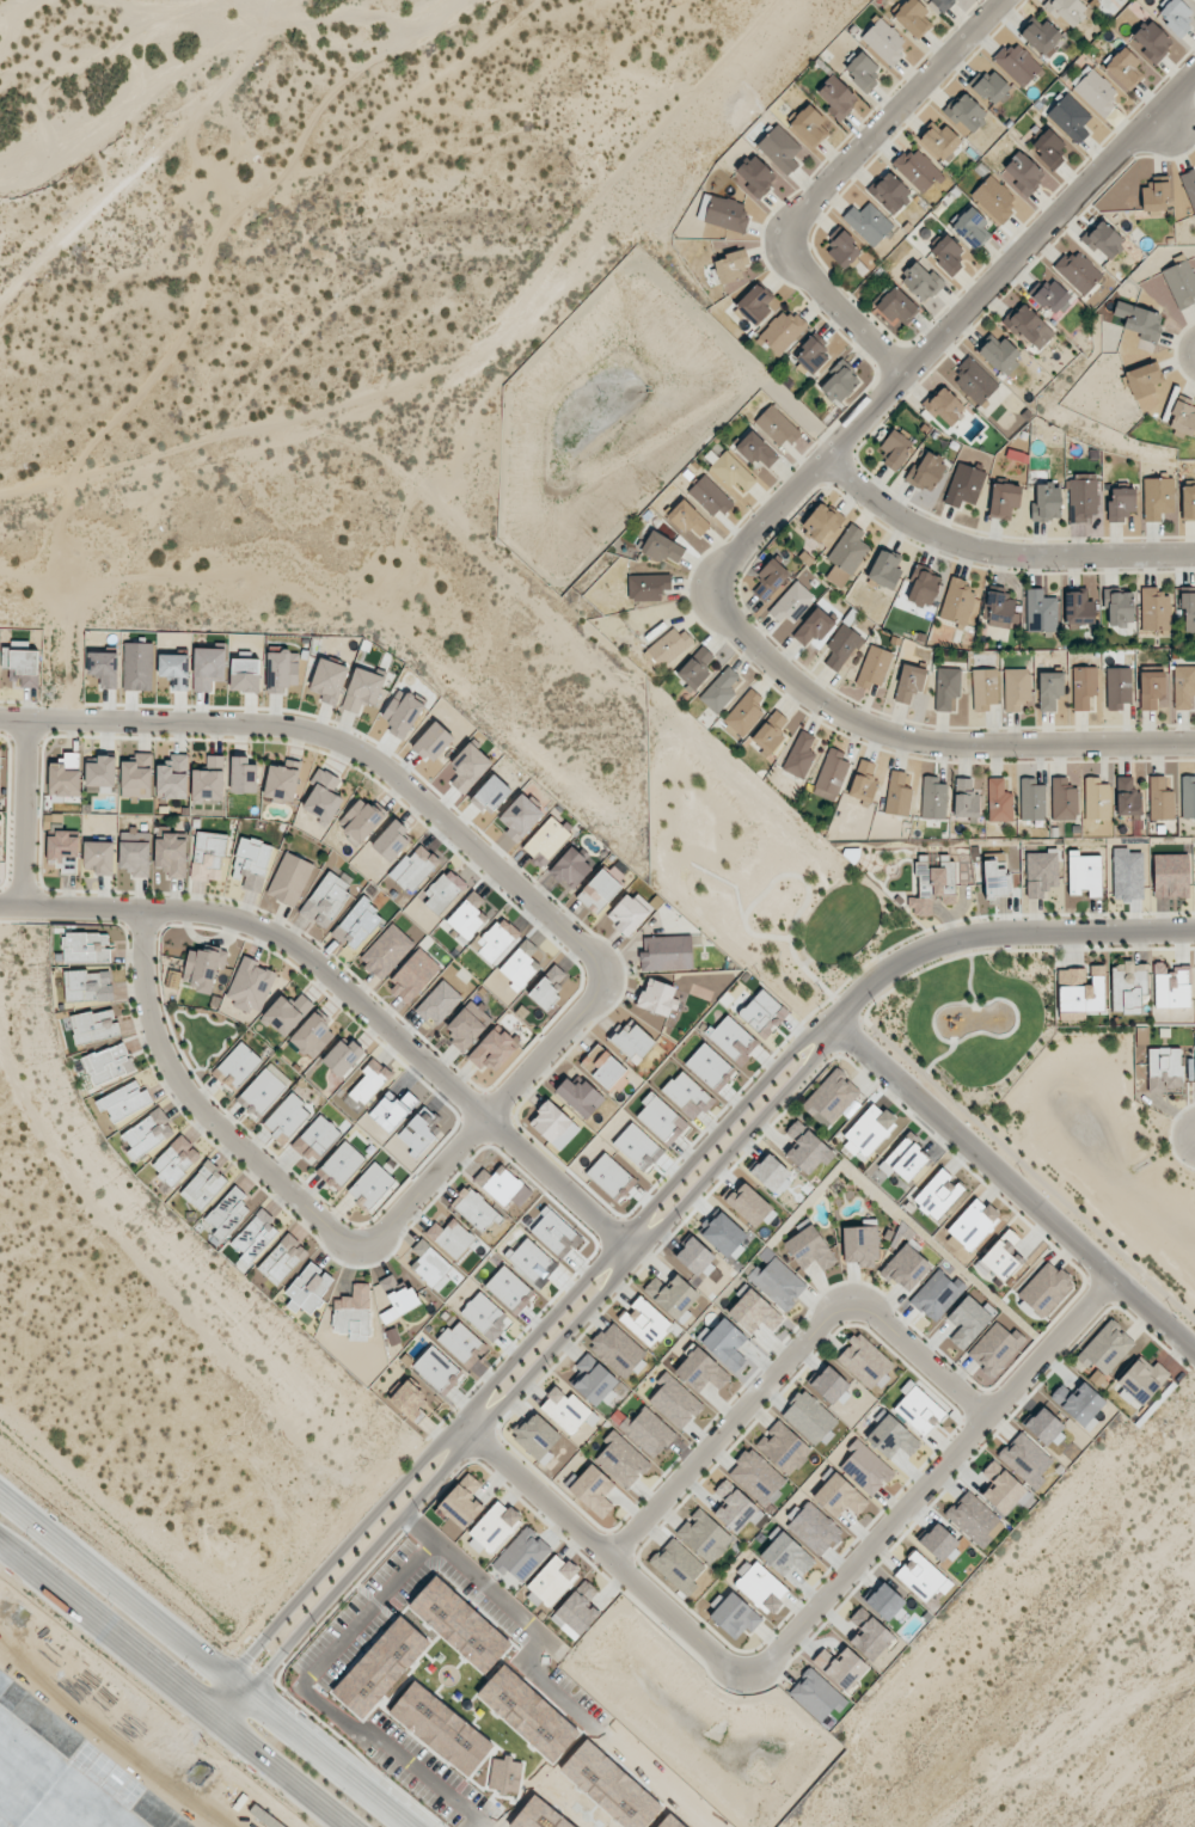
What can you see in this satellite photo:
building: (1092, 0)
building: (942, 4)
building: (1067, 10)
building: (912, 17)
building: (1176, 17)
building: (1041, 36)
building: (1152, 41)
building: (884, 42)
building: (1017, 63)
building: (1123, 68)
building: (862, 72)
building: (991, 86)
building: (1096, 91)
building: (836, 97)
building: (966, 112)
road: (896, 117)
building: (1070, 117)
building: (808, 127)
building: (939, 141)
building: (780, 149)
building: (1048, 149)
building: (918, 170)
building: (1022, 174)
building: (755, 176)
building: (1189, 186)
building: (889, 194)
building: (994, 198)
building: (1154, 198)
building: (725, 214)
building: (868, 222)
building: (972, 227)
building: (1103, 239)
building: (842, 249)
building: (946, 255)
building: (733, 265)
building: (1078, 271)
building: (920, 281)
building: (1181, 282)
building: (1053, 295)
building: (755, 304)
building: (896, 306)
road: (842, 308)
building: (1139, 320)
building: (1029, 327)
building: (782, 331)
road: (945, 331)
building: (811, 354)
building: (999, 354)
building: (1142, 380)
building: (840, 381)
building: (974, 381)
building: (944, 407)
building: (1183, 416)
building: (777, 425)
building: (895, 449)
building: (756, 450)
building: (926, 471)
building: (731, 472)
building: (964, 485)
building: (710, 496)
building: (1157, 497)
building: (1004, 499)
building: (1081, 501)
building: (1046, 502)
building: (1188, 502)
building: (1121, 504)
building: (687, 519)
building: (822, 522)
building: (661, 547)
road: (997, 552)
building: (846, 554)
building: (885, 569)
building: (770, 578)
building: (648, 586)
building: (923, 588)
building: (957, 602)
building: (791, 603)
building: (1119, 606)
building: (1000, 609)
building: (1079, 609)
building: (1154, 609)
building: (1040, 611)
building: (1188, 612)
building: (814, 626)
building: (668, 646)
building: (841, 646)
building: (137, 666)
building: (22, 667)
building: (874, 667)
building: (104, 668)
building: (208, 668)
building: (695, 668)
building: (174, 669)
building: (282, 670)
building: (245, 674)
building: (329, 680)
building: (909, 682)
building: (1083, 686)
building: (946, 687)
building: (1117, 687)
building: (1184, 687)
building: (362, 688)
building: (983, 688)
building: (1017, 688)
building: (1151, 688)
building: (719, 689)
building: (1049, 689)
building: (403, 712)
building: (744, 713)
building: (770, 732)
building: (433, 741)
road: (932, 744)
road: (350, 746)
building: (799, 755)
building: (468, 767)
building: (100, 774)
building: (244, 774)
building: (65, 775)
building: (136, 775)
building: (831, 775)
building: (172, 777)
building: (209, 779)
building: (863, 780)
building: (282, 781)
building: (491, 795)
building: (897, 795)
building: (321, 796)
building: (1127, 796)
building: (933, 798)
building: (1096, 798)
building: (1188, 798)
building: (966, 799)
building: (1032, 799)
building: (1064, 799)
building: (1160, 799)
building: (999, 801)
road: (27, 813)
building: (520, 817)
building: (361, 821)
building: (392, 841)
building: (546, 841)
building: (63, 845)
building: (135, 852)
building: (171, 853)
building: (208, 856)
building: (99, 857)
building: (251, 863)
building: (413, 867)
building: (570, 869)
park: (754, 870)
building: (1041, 872)
building: (1084, 873)
building: (1127, 875)
building: (1171, 875)
building: (289, 879)
building: (995, 879)
building: (931, 882)
building: (443, 891)
building: (326, 899)
building: (629, 913)
building: (467, 915)
building: (357, 924)
road: (1000, 933)
building: (496, 939)
building: (86, 948)
building: (386, 951)
building: (666, 952)
building: (520, 965)
building: (202, 968)
building: (413, 976)
building: (88, 986)
building: (250, 986)
building: (1127, 986)
building: (1171, 986)
building: (549, 987)
building: (1080, 989)
building: (657, 998)
road: (354, 1001)
building: (439, 1003)
building: (287, 1012)
building: (762, 1013)
building: (467, 1024)
park: (962, 1024)
building: (94, 1025)
building: (313, 1035)
building: (733, 1040)
building: (632, 1041)
building: (491, 1049)
building: (342, 1056)
building: (108, 1063)
building: (237, 1066)
building: (707, 1066)
building: (602, 1067)
building: (1165, 1068)
building: (369, 1081)
building: (263, 1090)
building: (687, 1095)
building: (580, 1096)
building: (833, 1097)
building: (124, 1101)
road: (202, 1104)
building: (392, 1110)
building: (657, 1116)
building: (287, 1118)
road: (485, 1120)
building: (551, 1122)
building: (869, 1132)
building: (147, 1134)
building: (315, 1139)
building: (637, 1147)
building: (805, 1148)
building: (176, 1160)
building: (903, 1160)
building: (341, 1164)
road: (1023, 1166)
building: (770, 1172)
building: (611, 1177)
building: (500, 1184)
building: (204, 1185)
building: (370, 1185)
road: (1016, 1189)
building: (938, 1194)
building: (748, 1204)
building: (474, 1209)
building: (227, 1212)
building: (973, 1224)
building: (723, 1234)
building: (255, 1237)
building: (452, 1238)
building: (859, 1245)
building: (809, 1247)
building: (694, 1256)
building: (1000, 1257)
building: (282, 1259)
building: (531, 1261)
building: (430, 1265)
building: (906, 1268)
building: (778, 1282)
building: (508, 1287)
building: (308, 1288)
building: (1044, 1288)
building: (399, 1294)
building: (672, 1294)
building: (937, 1294)
building: (754, 1312)
building: (354, 1313)
building: (485, 1317)
building: (969, 1320)
building: (645, 1322)
building: (460, 1341)
building: (725, 1344)
building: (995, 1348)
building: (1105, 1348)
building: (617, 1349)
building: (864, 1360)
road: (515, 1361)
road: (786, 1362)
building: (435, 1368)
building: (701, 1371)
road: (532, 1379)
building: (592, 1379)
building: (1140, 1380)
building: (829, 1385)
building: (407, 1398)
building: (674, 1400)
building: (1079, 1404)
building: (565, 1410)
building: (919, 1411)
building: (809, 1417)
building: (1044, 1427)
building: (648, 1431)
building: (537, 1436)
building: (891, 1437)
building: (783, 1447)
building: (1025, 1459)
building: (621, 1460)
building: (865, 1467)
building: (755, 1476)
road: (933, 1479)
building: (1003, 1489)
building: (593, 1490)
building: (839, 1496)
building: (462, 1502)
building: (735, 1507)
building: (492, 1528)
building: (814, 1528)
building: (704, 1535)
building: (938, 1541)
road: (601, 1551)
building: (522, 1555)
building: (786, 1556)
building: (678, 1565)
building: (923, 1576)
building: (761, 1587)
building: (885, 1602)
building: (577, 1608)
building: (735, 1616)
building: (869, 1635)
road: (208, 1659)
building: (840, 1667)
road: (173, 1686)
building: (815, 1694)
building: (505, 1774)

